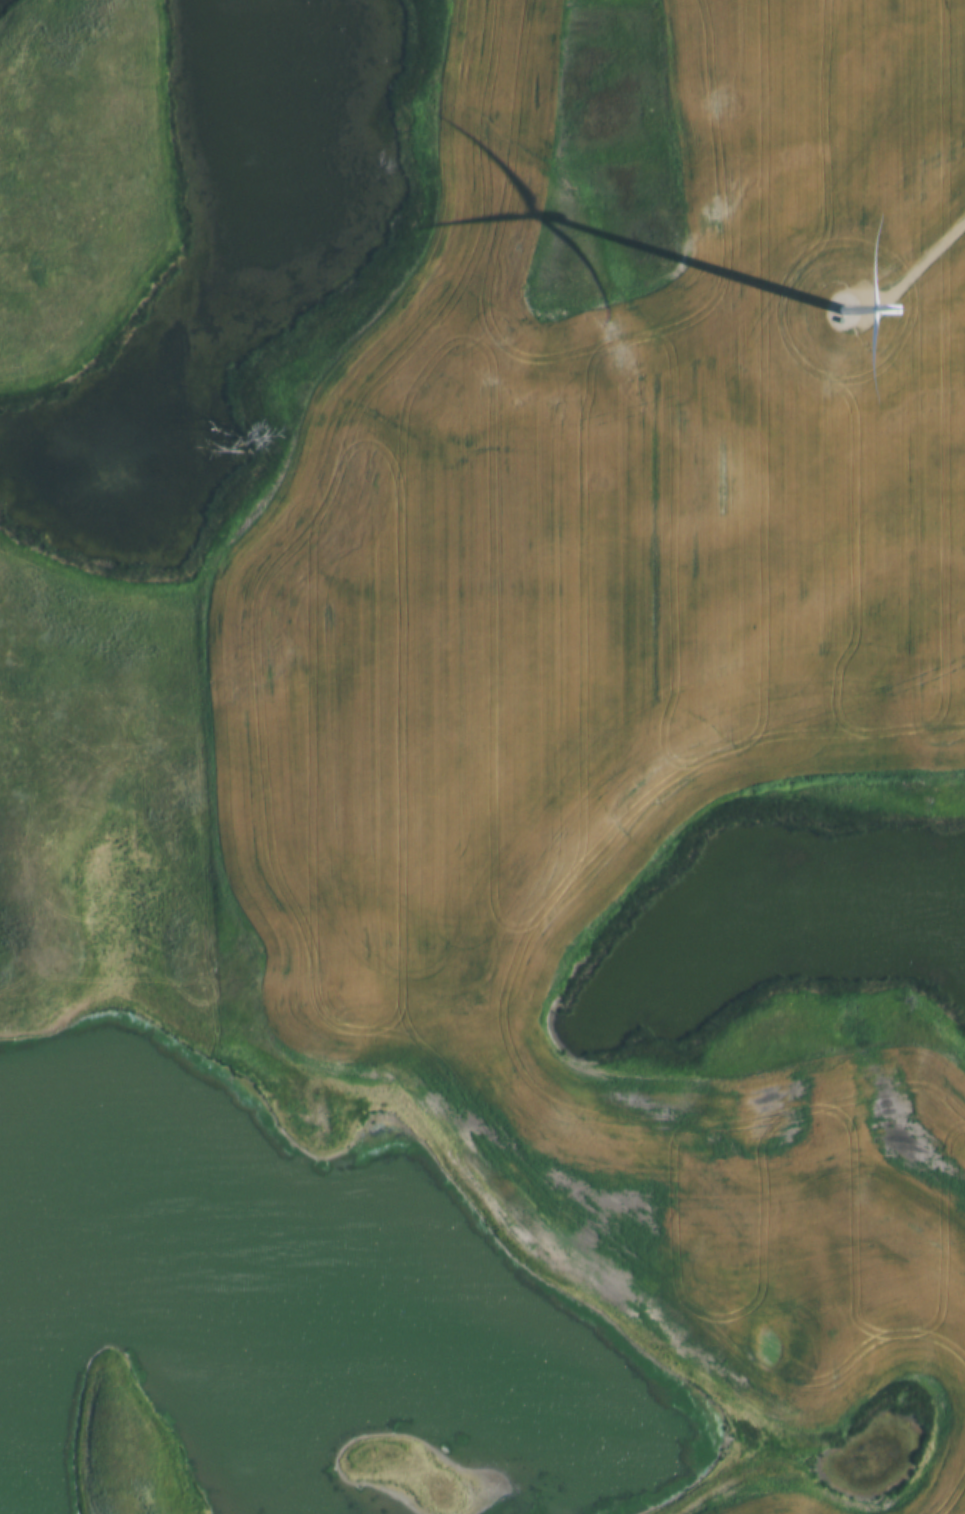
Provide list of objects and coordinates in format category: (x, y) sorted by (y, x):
road: (925, 254)
wind turbine: (844, 311)

